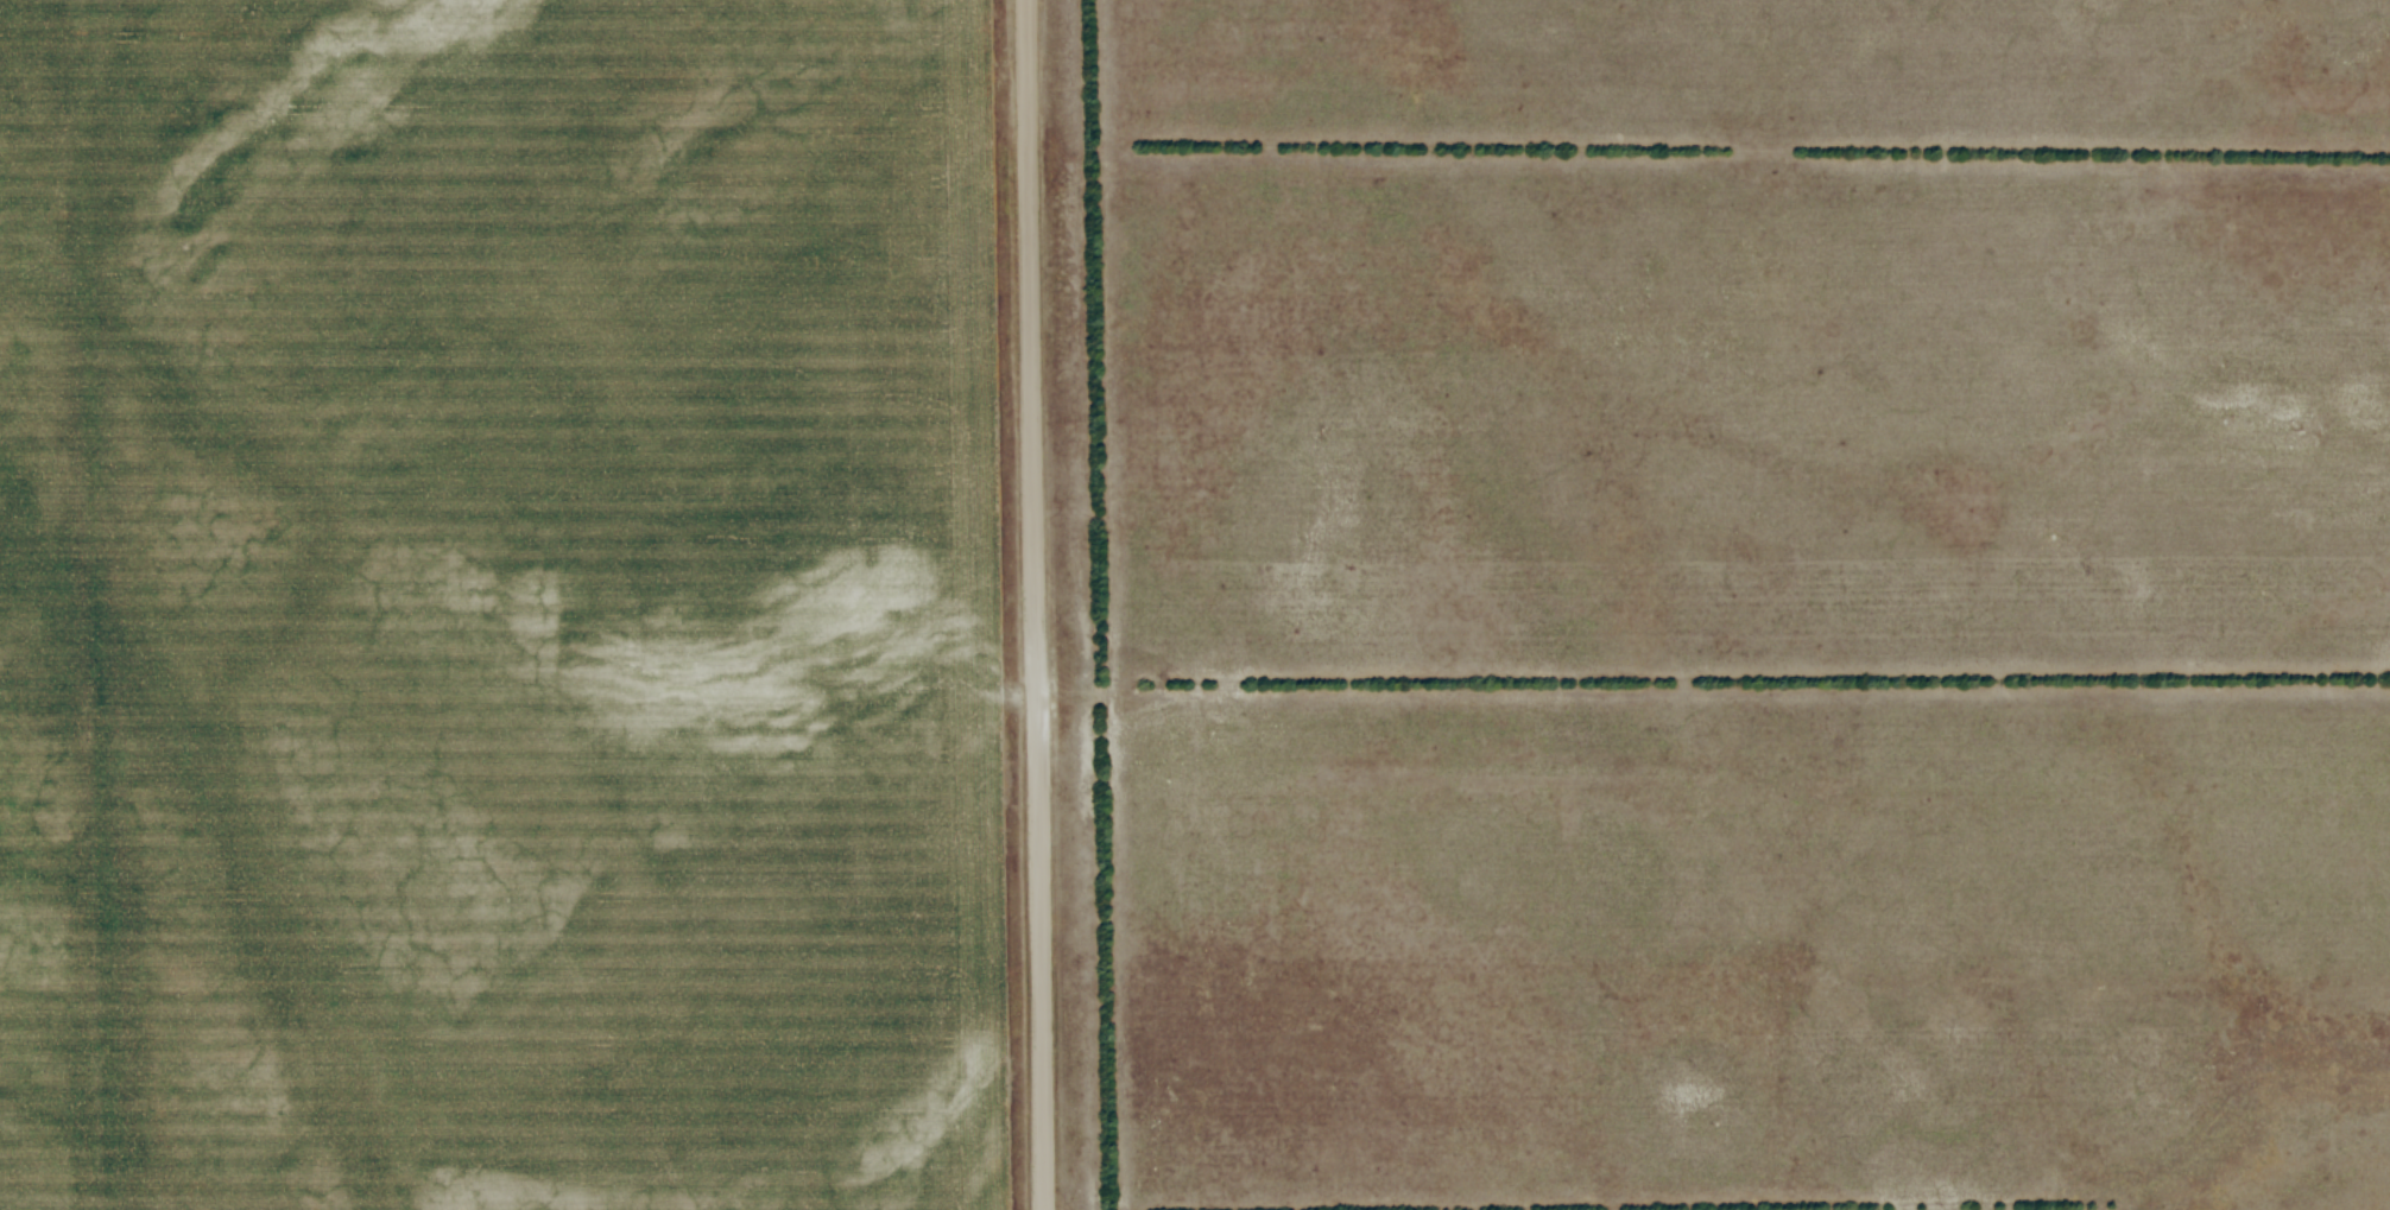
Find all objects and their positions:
road: (1036, 604)
crop: (499, 607)

